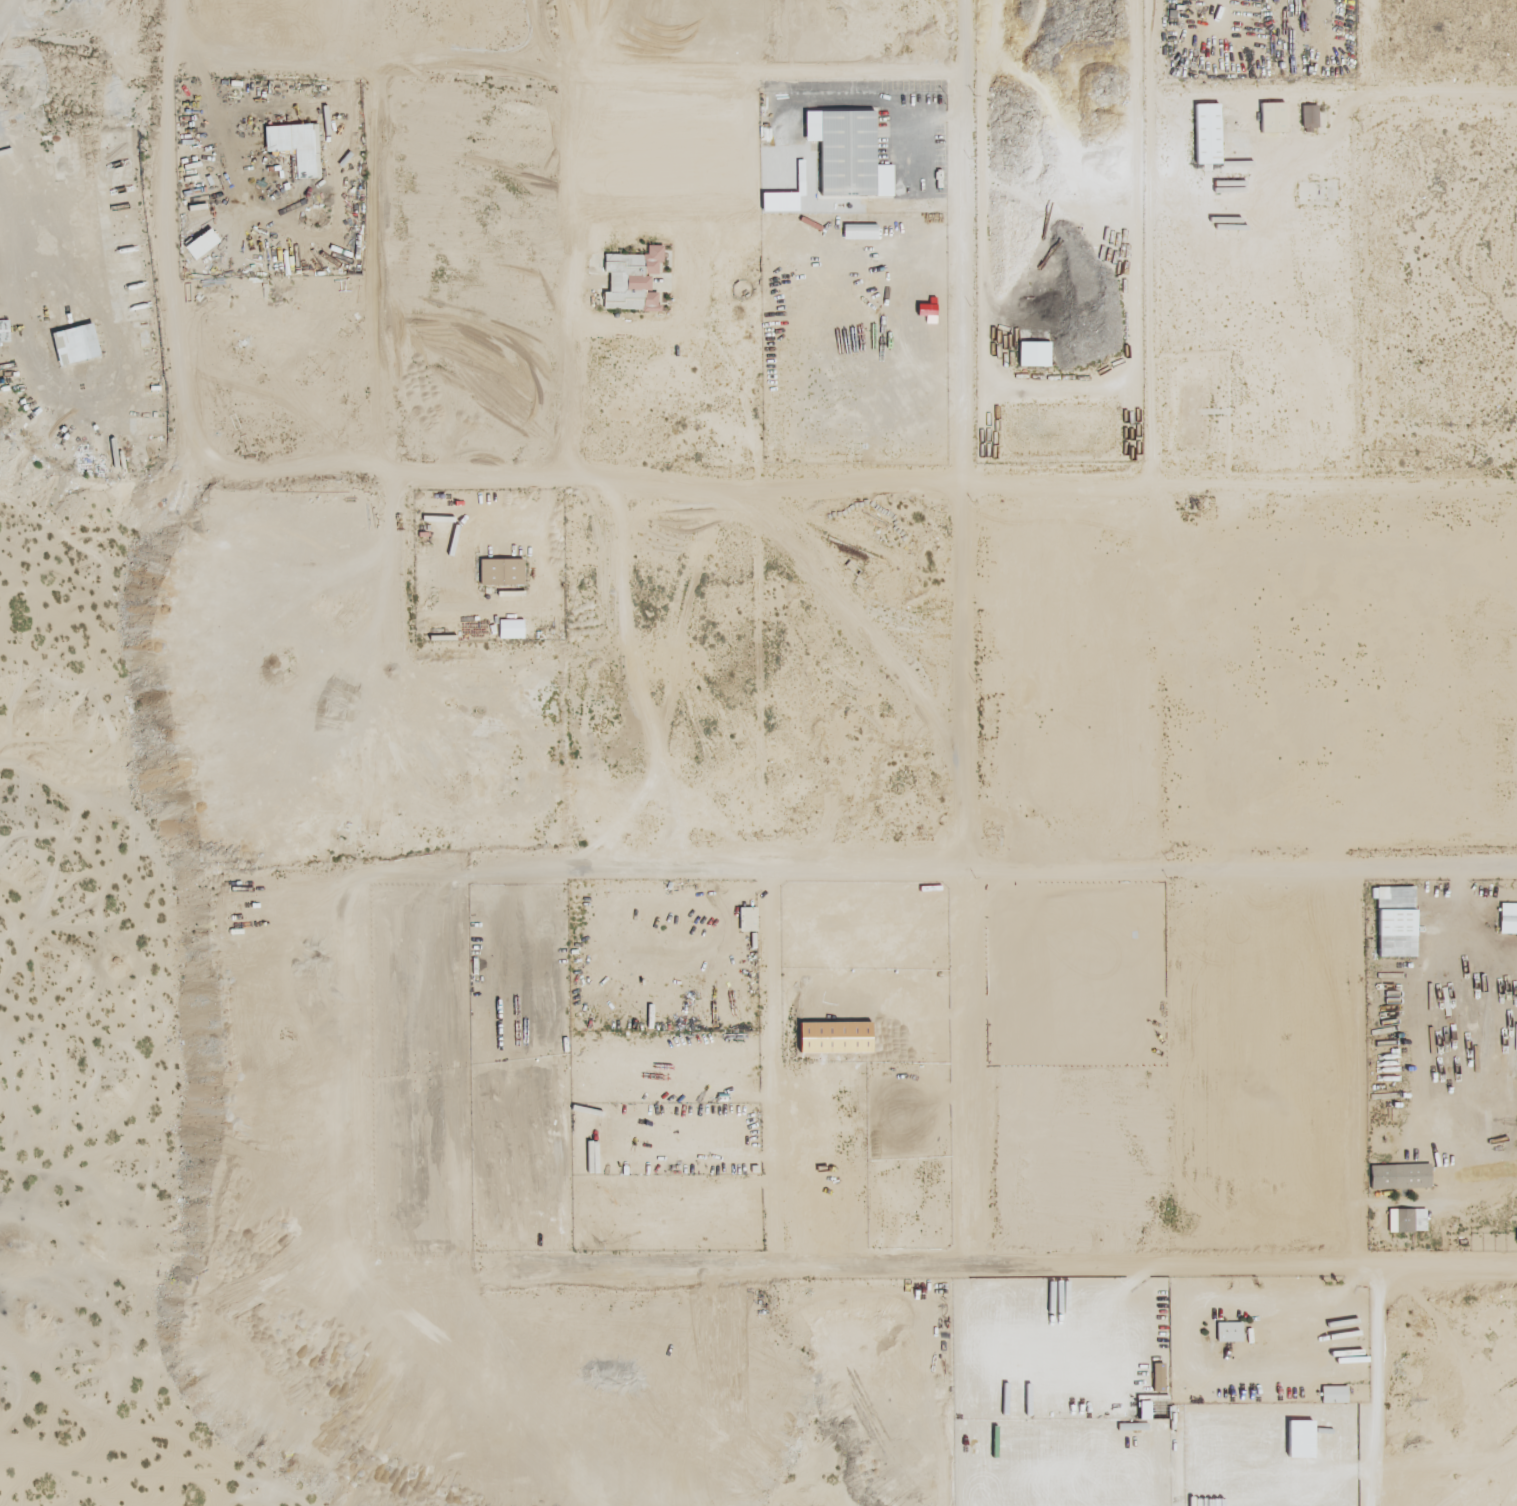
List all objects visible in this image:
road: (637, 33)
building: (1272, 117)
building: (1309, 117)
building: (1207, 133)
building: (297, 146)
building: (845, 152)
road: (167, 209)
building: (860, 231)
building: (202, 243)
road: (1149, 244)
building: (632, 280)
building: (72, 343)
building: (1032, 353)
road: (832, 491)
building: (501, 571)
building: (511, 628)
road: (962, 631)
road: (932, 867)
building: (747, 916)
building: (1508, 918)
building: (1396, 921)
road: (765, 1067)
building: (1398, 1176)
building: (1407, 1220)
road: (1020, 1263)
building: (1229, 1331)
building: (1334, 1394)

